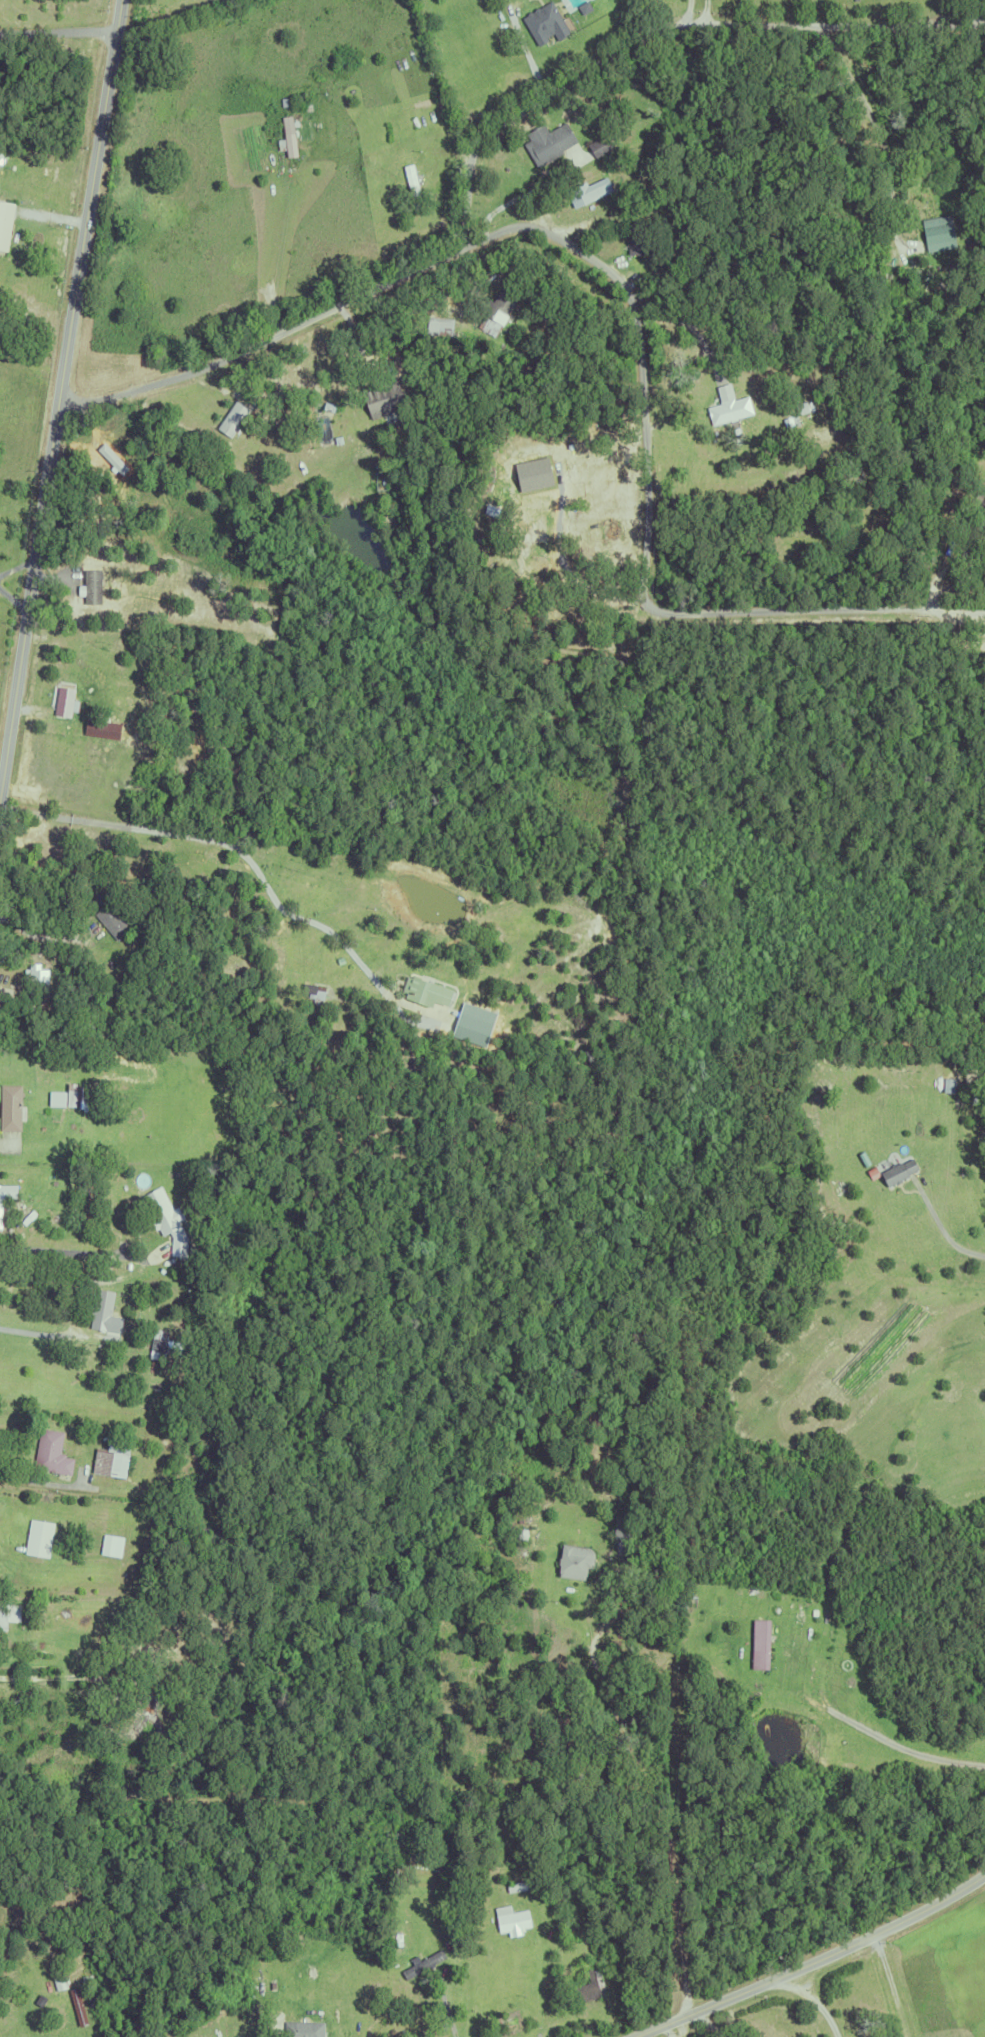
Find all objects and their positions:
building: (582, 5)
road: (689, 14)
road: (707, 14)
building: (542, 20)
road: (661, 31)
road: (58, 35)
road: (528, 55)
road: (862, 95)
building: (285, 135)
building: (291, 137)
building: (541, 142)
building: (597, 142)
building: (604, 145)
building: (409, 186)
building: (586, 188)
building: (908, 188)
building: (4, 220)
building: (936, 230)
building: (635, 242)
building: (525, 251)
road: (631, 293)
building: (548, 306)
building: (495, 309)
road: (683, 321)
building: (437, 323)
building: (392, 391)
road: (59, 395)
building: (326, 404)
building: (727, 407)
building: (230, 416)
building: (788, 419)
building: (310, 429)
building: (335, 438)
building: (982, 496)
building: (495, 510)
building: (535, 518)
road: (14, 585)
building: (96, 588)
road: (973, 610)
building: (63, 699)
building: (196, 718)
building: (103, 727)
road: (228, 844)
building: (110, 919)
road: (37, 933)
building: (338, 959)
building: (23, 983)
building: (311, 990)
building: (424, 990)
building: (38, 993)
building: (476, 1024)
building: (77, 1092)
building: (70, 1093)
building: (56, 1097)
building: (10, 1106)
building: (55, 1165)
building: (898, 1173)
building: (192, 1174)
building: (86, 1179)
building: (7, 1190)
building: (167, 1224)
road: (942, 1229)
road: (72, 1282)
building: (100, 1308)
building: (169, 1313)
road: (39, 1333)
building: (157, 1340)
building: (50, 1452)
building: (110, 1459)
road: (83, 1486)
building: (496, 1514)
building: (205, 1531)
building: (616, 1535)
building: (623, 1535)
building: (37, 1537)
building: (110, 1545)
road: (2, 1548)
building: (617, 1553)
building: (573, 1562)
building: (8, 1614)
building: (759, 1642)
building: (138, 1709)
building: (747, 1723)
road: (900, 1743)
road: (653, 1776)
building: (516, 1886)
building: (509, 1919)
building: (587, 1923)
building: (396, 1940)
road: (815, 1963)
building: (420, 1964)
building: (265, 1985)
building: (593, 1986)
road: (539, 1987)
building: (298, 2002)
road: (814, 2004)
building: (81, 2007)
road: (680, 2028)
building: (309, 2029)

